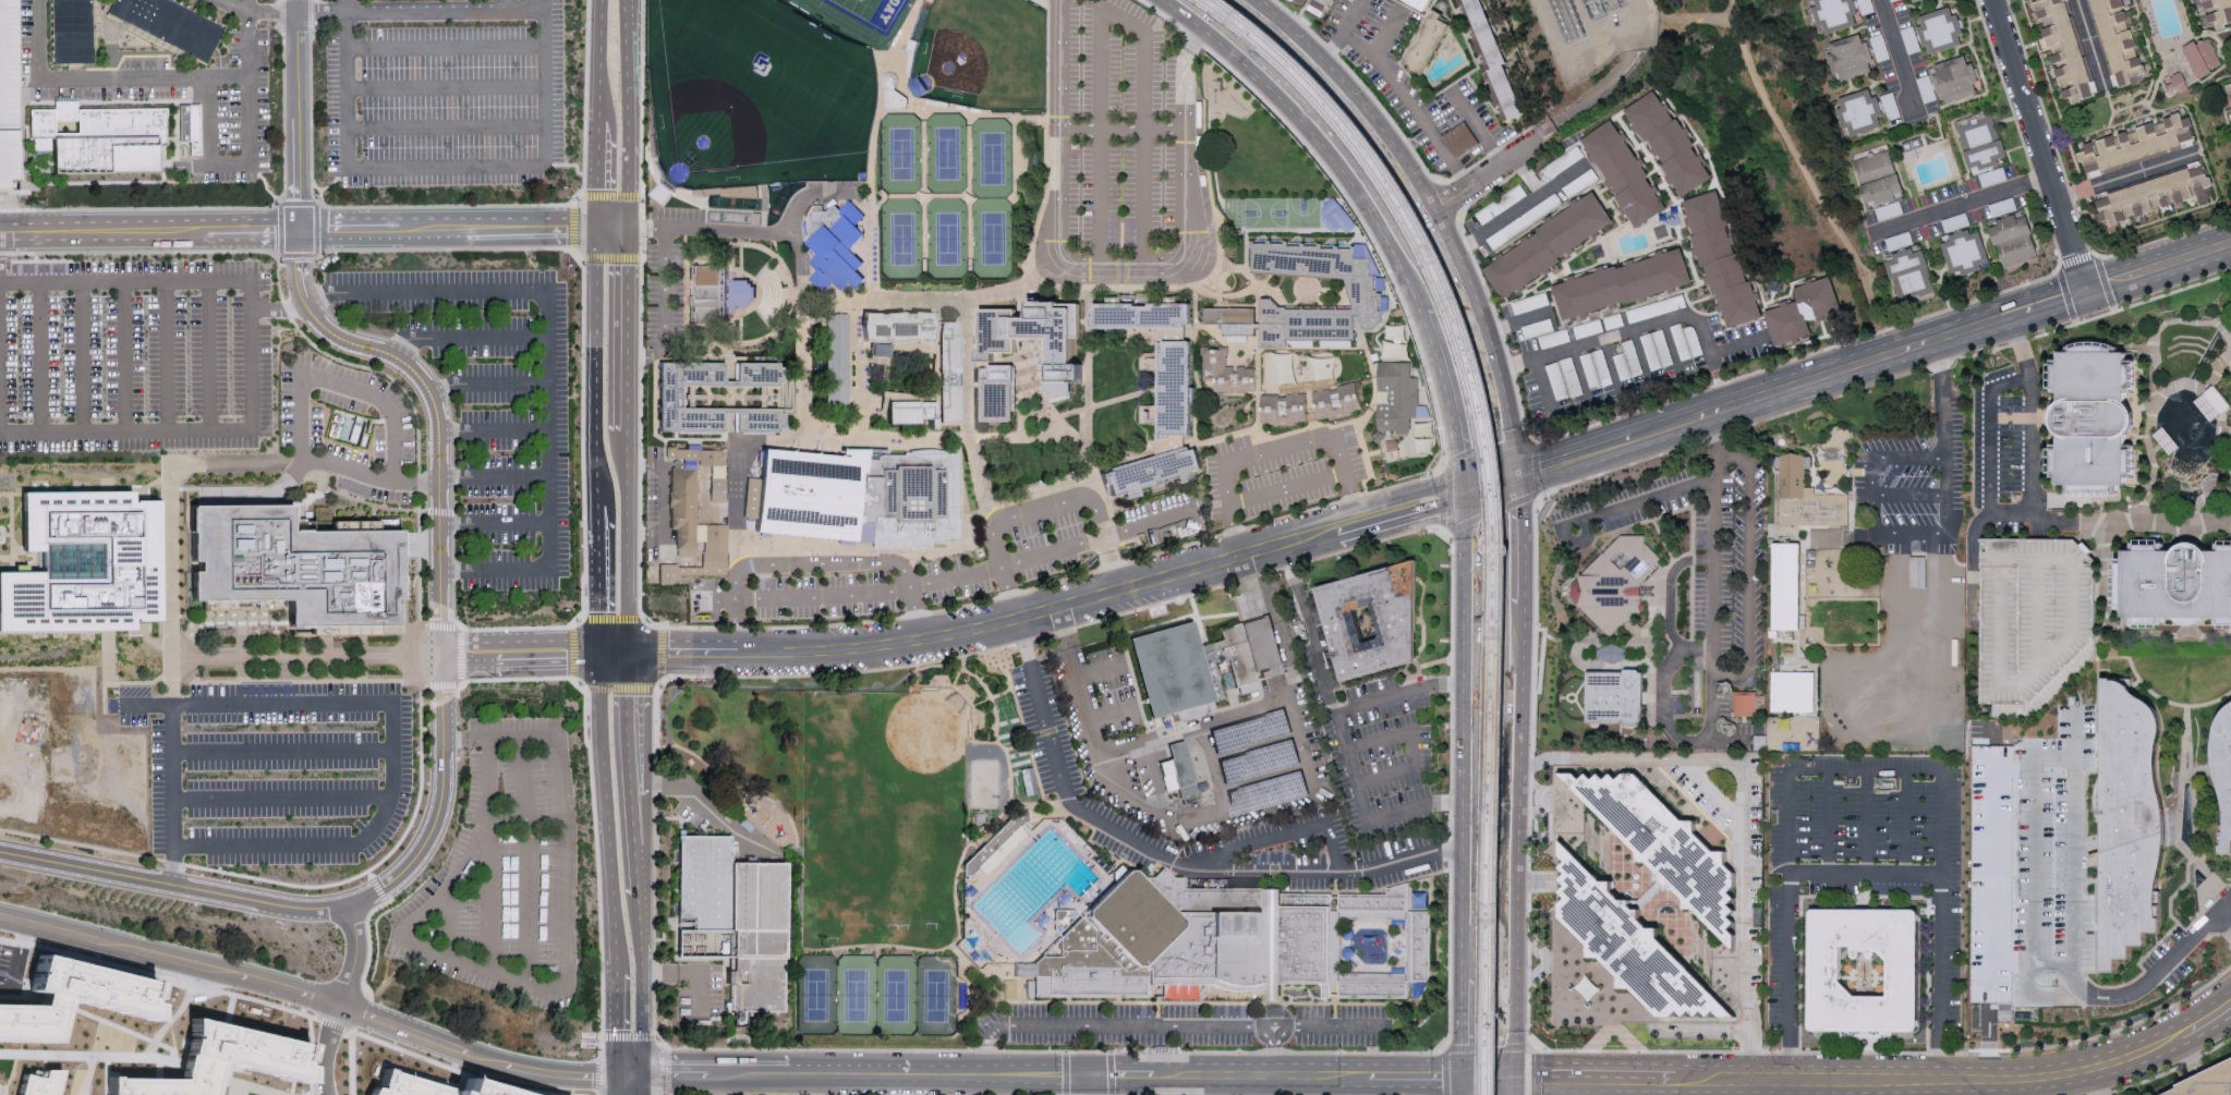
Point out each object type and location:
building: (1298, 0)
building: (1456, 0)
building: (1911, 0)
building: (1918, 1)
road: (505, 4)
road: (544, 4)
building: (1423, 4)
road: (250, 5)
road: (295, 5)
road: (345, 5)
building: (1321, 7)
road: (432, 10)
road: (524, 10)
road: (260, 11)
road: (320, 11)
road: (352, 11)
building: (2217, 12)
road: (1731, 13)
road: (313, 14)
park: (865, 14)
building: (1835, 16)
road: (345, 19)
road: (1355, 19)
building: (170, 23)
road: (283, 24)
building: (71, 31)
power substation: (1592, 33)
building: (1940, 33)
road: (1385, 38)
road: (39, 39)
building: (1428, 40)
building: (2119, 40)
road: (2091, 41)
road: (445, 47)
building: (2066, 48)
building: (1683, 49)
power substation: (1685, 49)
road: (1899, 56)
park: (982, 57)
building: (1498, 58)
building: (2202, 60)
building: (1851, 61)
road: (601, 62)
park: (762, 70)
road: (146, 77)
building: (1955, 81)
road: (445, 86)
building: (2174, 86)
building: (2229, 87)
road: (2021, 88)
road: (1403, 90)
parking lot: (180, 92)
building: (5, 93)
parking lot: (5, 93)
parking lot: (446, 94)
road: (1353, 95)
road: (1593, 99)
road: (252, 109)
road: (630, 112)
building: (1858, 113)
road: (298, 119)
road: (208, 121)
building: (190, 124)
park: (713, 125)
road: (446, 126)
road: (1145, 127)
road: (1125, 131)
road: (1480, 132)
building: (100, 135)
parking lot: (1120, 136)
road: (1101, 139)
road: (1785, 139)
building: (1680, 144)
building: (1983, 146)
building: (2137, 146)
park: (946, 154)
park: (901, 158)
park: (992, 159)
road: (453, 167)
road: (1489, 173)
road: (599, 174)
building: (1627, 174)
road: (1530, 177)
building: (1879, 180)
road: (2125, 180)
road: (60, 181)
road: (328, 182)
building: (2153, 196)
road: (5, 203)
road: (316, 203)
road: (460, 204)
road: (1965, 204)
road: (230, 207)
road: (1374, 210)
road: (1518, 211)
building: (1342, 216)
road: (523, 226)
traffic signals: (598, 226)
road: (613, 226)
traffic signals: (627, 226)
road: (645, 226)
road: (373, 227)
road: (151, 228)
road: (2, 229)
road: (2066, 233)
park: (902, 241)
park: (946, 241)
park: (993, 241)
building: (2012, 242)
building: (1550, 245)
building: (838, 246)
building: (1724, 254)
building: (1965, 255)
road: (2158, 265)
road: (1114, 267)
parking lot: (670, 273)
building: (1908, 278)
building: (1627, 284)
traffic signals: (2086, 289)
building: (743, 291)
building: (1367, 295)
building: (712, 296)
road: (2048, 301)
road: (278, 308)
road: (665, 308)
building: (1799, 312)
road: (1517, 319)
building: (1140, 320)
road: (625, 326)
building: (896, 329)
road: (1642, 330)
road: (1488, 336)
road: (466, 338)
building: (1036, 340)
road: (1741, 343)
road: (2021, 344)
building: (880, 346)
road: (1673, 353)
parking lot: (134, 354)
road: (125, 355)
road: (168, 355)
road: (210, 355)
road: (252, 355)
road: (39, 356)
road: (82, 356)
building: (836, 363)
road: (1644, 363)
road: (546, 365)
road: (594, 367)
road: (1939, 367)
road: (581, 368)
road: (1613, 372)
road: (1828, 372)
building: (729, 375)
building: (1226, 375)
road: (320, 378)
building: (946, 378)
road: (1583, 380)
road: (487, 386)
building: (1174, 392)
road: (1543, 392)
building: (669, 397)
building: (1399, 397)
building: (996, 399)
building: (2218, 399)
building: (1335, 403)
road: (434, 404)
parking lot: (493, 406)
building: (2208, 406)
building: (1283, 411)
building: (905, 416)
building: (2097, 419)
building: (731, 423)
parking lot: (303, 428)
road: (492, 434)
parking lot: (2010, 439)
building: (2167, 440)
road: (801, 445)
road: (1723, 446)
road: (1944, 447)
road: (1275, 451)
road: (1579, 451)
road: (1908, 458)
traffic signals: (1516, 474)
building: (1149, 475)
parking lot: (1280, 475)
road: (1872, 476)
road: (493, 478)
road: (1492, 483)
road: (1285, 485)
road: (660, 486)
building: (718, 487)
traffic signals: (1468, 491)
road: (265, 494)
parking lot: (1907, 496)
road: (1909, 496)
building: (1805, 497)
building: (864, 498)
railway: (1491, 499)
railway: (1499, 501)
building: (686, 509)
road: (1013, 511)
parking lot: (1047, 511)
road: (1402, 511)
road: (1872, 514)
road: (1996, 514)
road: (1571, 521)
road: (2061, 522)
road: (1145, 523)
road: (2161, 523)
road: (494, 525)
parking lot: (1156, 527)
building: (716, 532)
road: (1927, 533)
road: (626, 538)
road: (11, 544)
road: (1519, 548)
parking lot: (1703, 555)
road: (1713, 556)
road: (1009, 564)
building: (89, 565)
building: (296, 567)
building: (1918, 571)
road: (597, 580)
road: (1749, 580)
building: (1617, 581)
road: (419, 584)
building: (2180, 584)
building: (1785, 586)
road: (1247, 589)
parking lot: (788, 591)
road: (817, 593)
road: (1671, 594)
road: (735, 609)
road: (170, 612)
road: (1039, 612)
building: (1384, 615)
building: (2037, 616)
parking garage: (2037, 616)
road: (483, 650)
road: (561, 650)
traffic signals: (598, 650)
road: (611, 650)
traffic signals: (626, 650)
road: (680, 650)
road: (1287, 650)
road: (305, 652)
building: (1199, 665)
road: (948, 667)
road: (1098, 670)
road: (1013, 689)
building: (1794, 691)
road: (1402, 695)
road: (1663, 695)
road: (440, 696)
building: (1620, 696)
road: (1281, 704)
building: (1747, 704)
road: (1110, 714)
road: (626, 722)
parking lot: (1047, 730)
road: (1341, 732)
road: (1469, 733)
parking lot: (1371, 735)
road: (2078, 735)
road: (395, 738)
road: (1411, 743)
road: (1254, 745)
park: (906, 749)
road: (283, 752)
parking lot: (1196, 752)
building: (1177, 769)
road: (1214, 769)
parking lot: (275, 771)
road: (1865, 771)
building: (2224, 774)
road: (1263, 777)
park: (864, 788)
road: (281, 801)
road: (1039, 804)
road: (604, 812)
road: (1741, 813)
road: (2078, 815)
park: (978, 817)
road: (1827, 824)
road: (1867, 825)
road: (1904, 825)
building: (2132, 828)
road: (1280, 836)
building: (240, 838)
road: (425, 839)
road: (633, 842)
building: (994, 843)
building: (1673, 843)
road: (1517, 852)
road: (488, 855)
road: (1168, 856)
road: (526, 862)
parking lot: (1867, 862)
parking lot: (2045, 862)
parking lot: (507, 873)
road: (1864, 877)
road: (21, 879)
road: (174, 885)
road: (800, 904)
road: (2224, 908)
building: (733, 925)
road: (567, 936)
parking lot: (0, 942)
building: (1239, 945)
building: (1637, 945)
road: (172, 952)
road: (354, 953)
building: (1900, 966)
road: (163, 971)
road: (689, 973)
road: (642, 981)
road: (13, 991)
building: (75, 993)
park: (877, 993)
road: (46, 998)
road: (1989, 1021)
road: (336, 1022)
parking lot: (1186, 1022)
road: (615, 1023)
road: (124, 1026)
road: (1464, 1026)
road: (1137, 1027)
road: (1331, 1030)
road: (658, 1035)
road: (602, 1043)
road: (1464, 1046)
road: (328, 1047)
road: (89, 1051)
road: (483, 1051)
building: (208, 1059)
road: (354, 1062)
road: (196, 1063)
road: (466, 1068)
traffic signals: (630, 1071)
road: (1046, 1072)
road: (85, 1073)
road: (603, 1073)
traffic signals: (1077, 1073)
traffic signals: (1095, 1073)
traffic signals: (1464, 1079)
road: (1488, 1080)
traffic signals: (1513, 1081)
road: (251, 1083)
road: (630, 1083)
building: (34, 1084)
building: (432, 1084)
road: (1077, 1084)
road: (1094, 1084)
road: (1256, 1085)
building: (2211, 1085)
road: (1464, 1086)
road: (239, 1087)
road: (1512, 1087)
road: (1880, 1087)
road: (1674, 1090)
road: (1894, 1092)
road: (1972, 1092)
road: (81, 1094)

